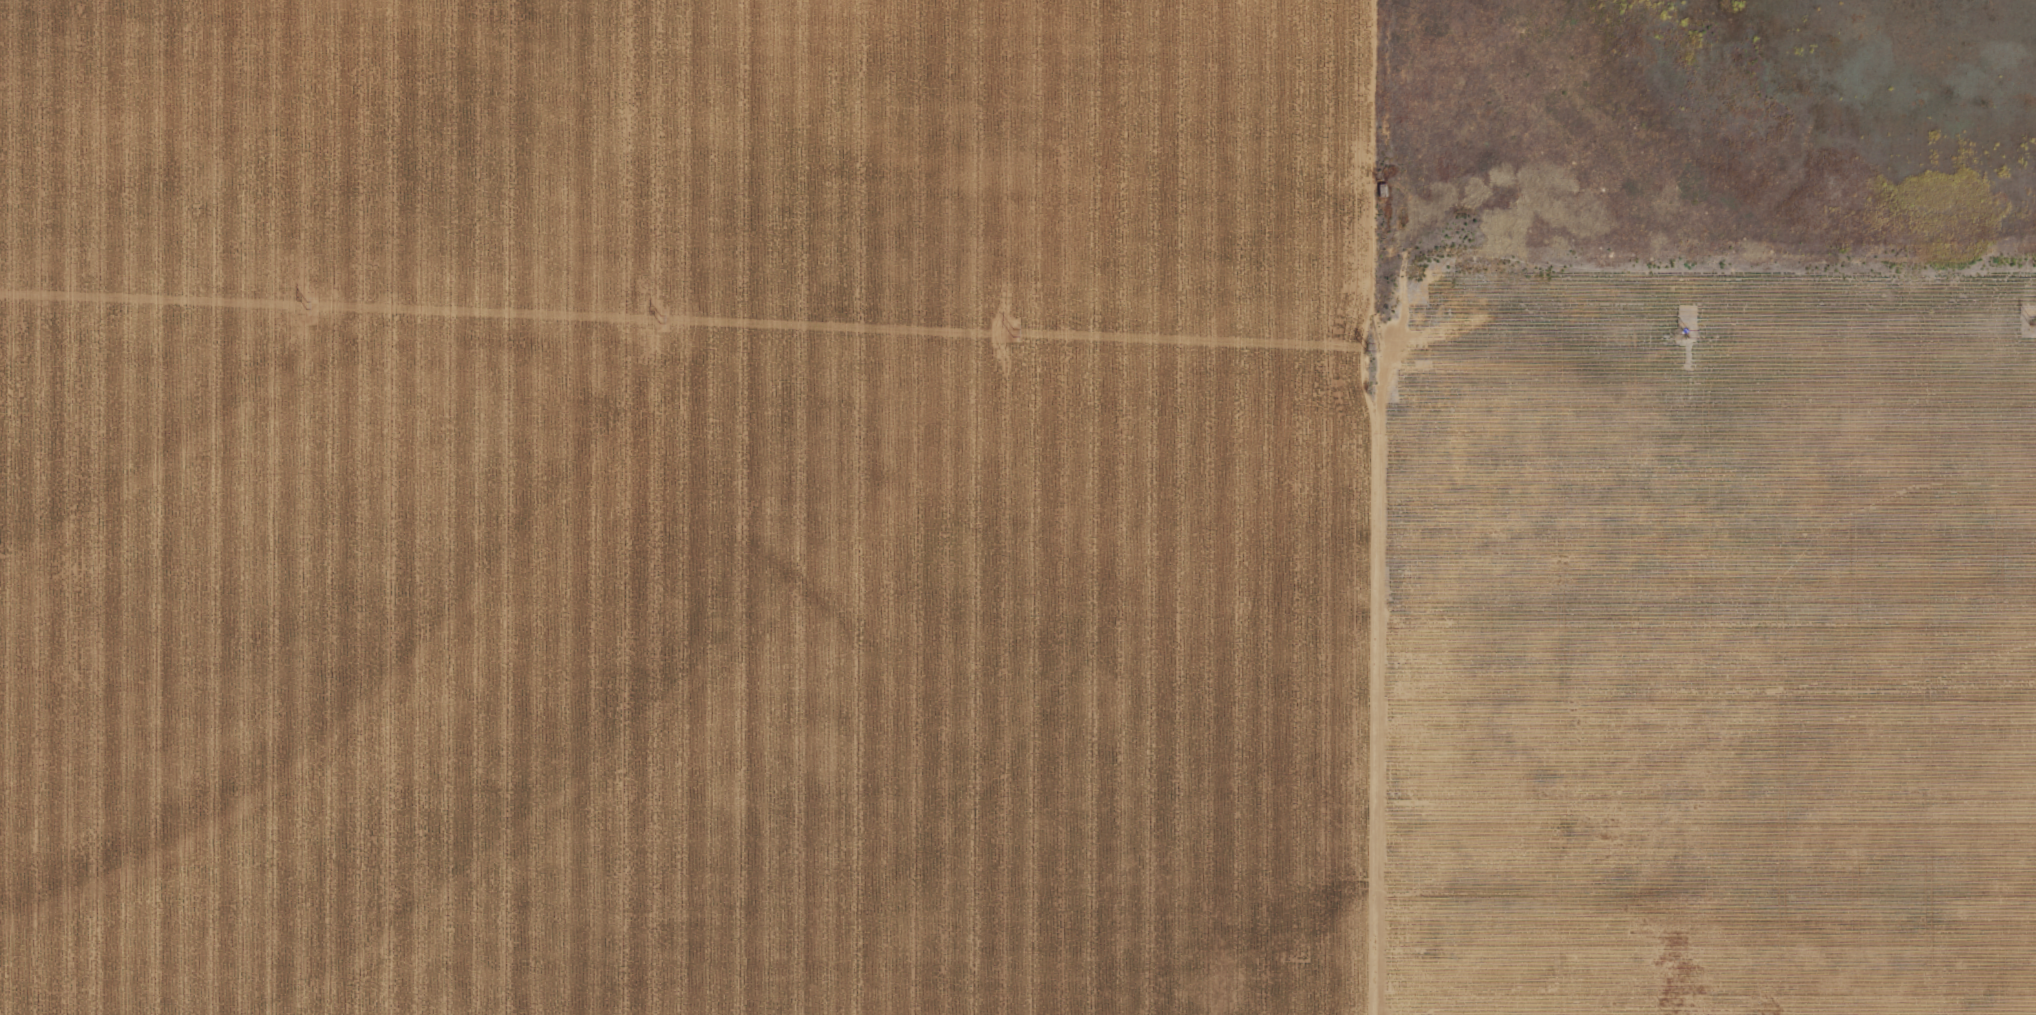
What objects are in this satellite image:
power tower: (302, 299)
power tower: (653, 308)
power tower: (2026, 320)
power tower: (1008, 323)
power tower: (1684, 329)
power tower: (1360, 336)
road: (1340, 661)

